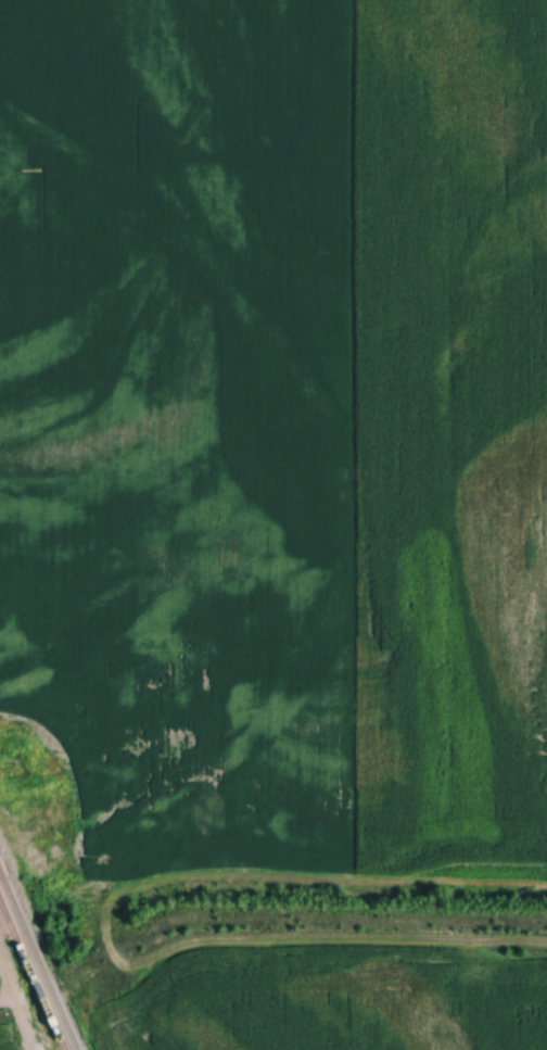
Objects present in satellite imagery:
railway: (39, 960)
railway: (33, 975)

